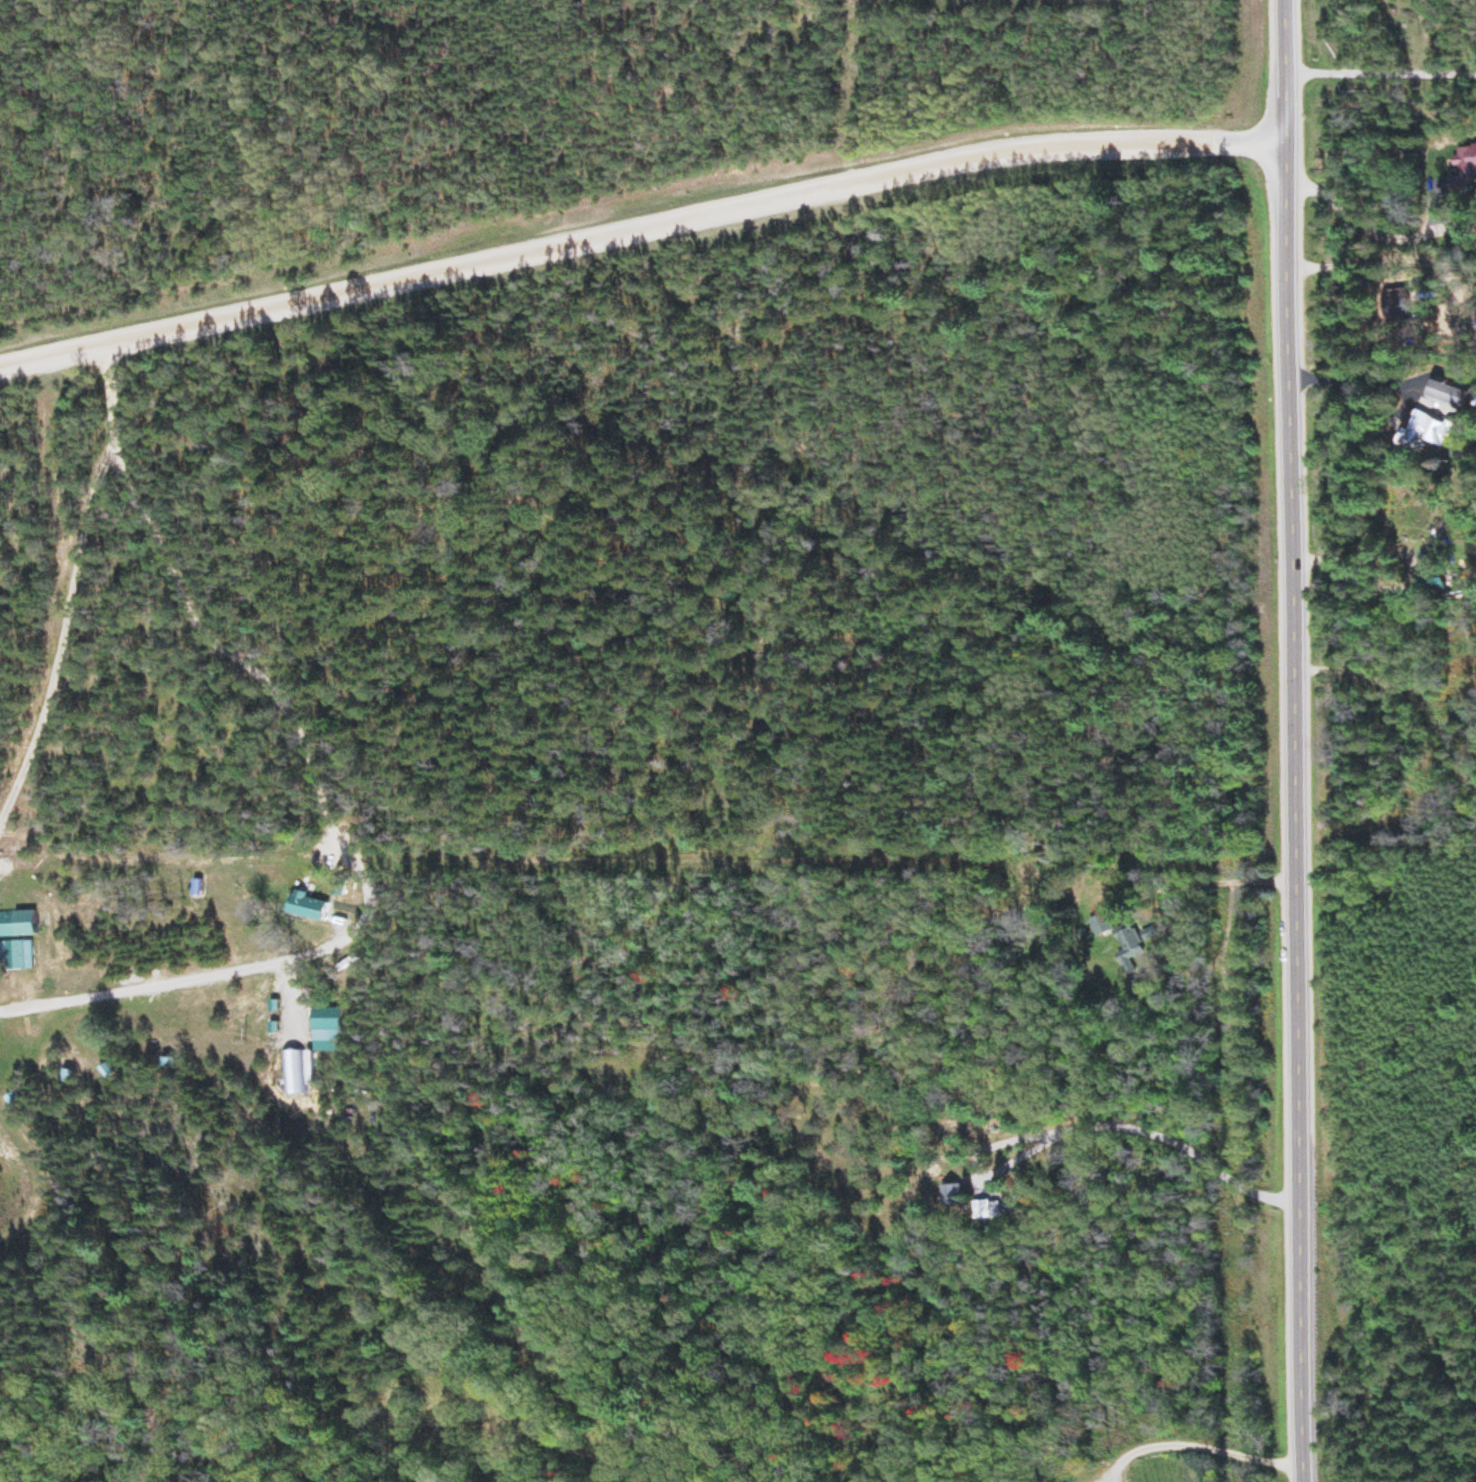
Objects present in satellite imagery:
building: (1463, 170)
road: (642, 231)
building: (1387, 305)
building: (1446, 394)
building: (1421, 435)
road: (64, 563)
building: (1431, 582)
road: (1299, 740)
building: (345, 887)
building: (318, 908)
building: (22, 925)
building: (1118, 941)
building: (17, 957)
building: (294, 1073)
road: (1191, 1145)
building: (950, 1196)

